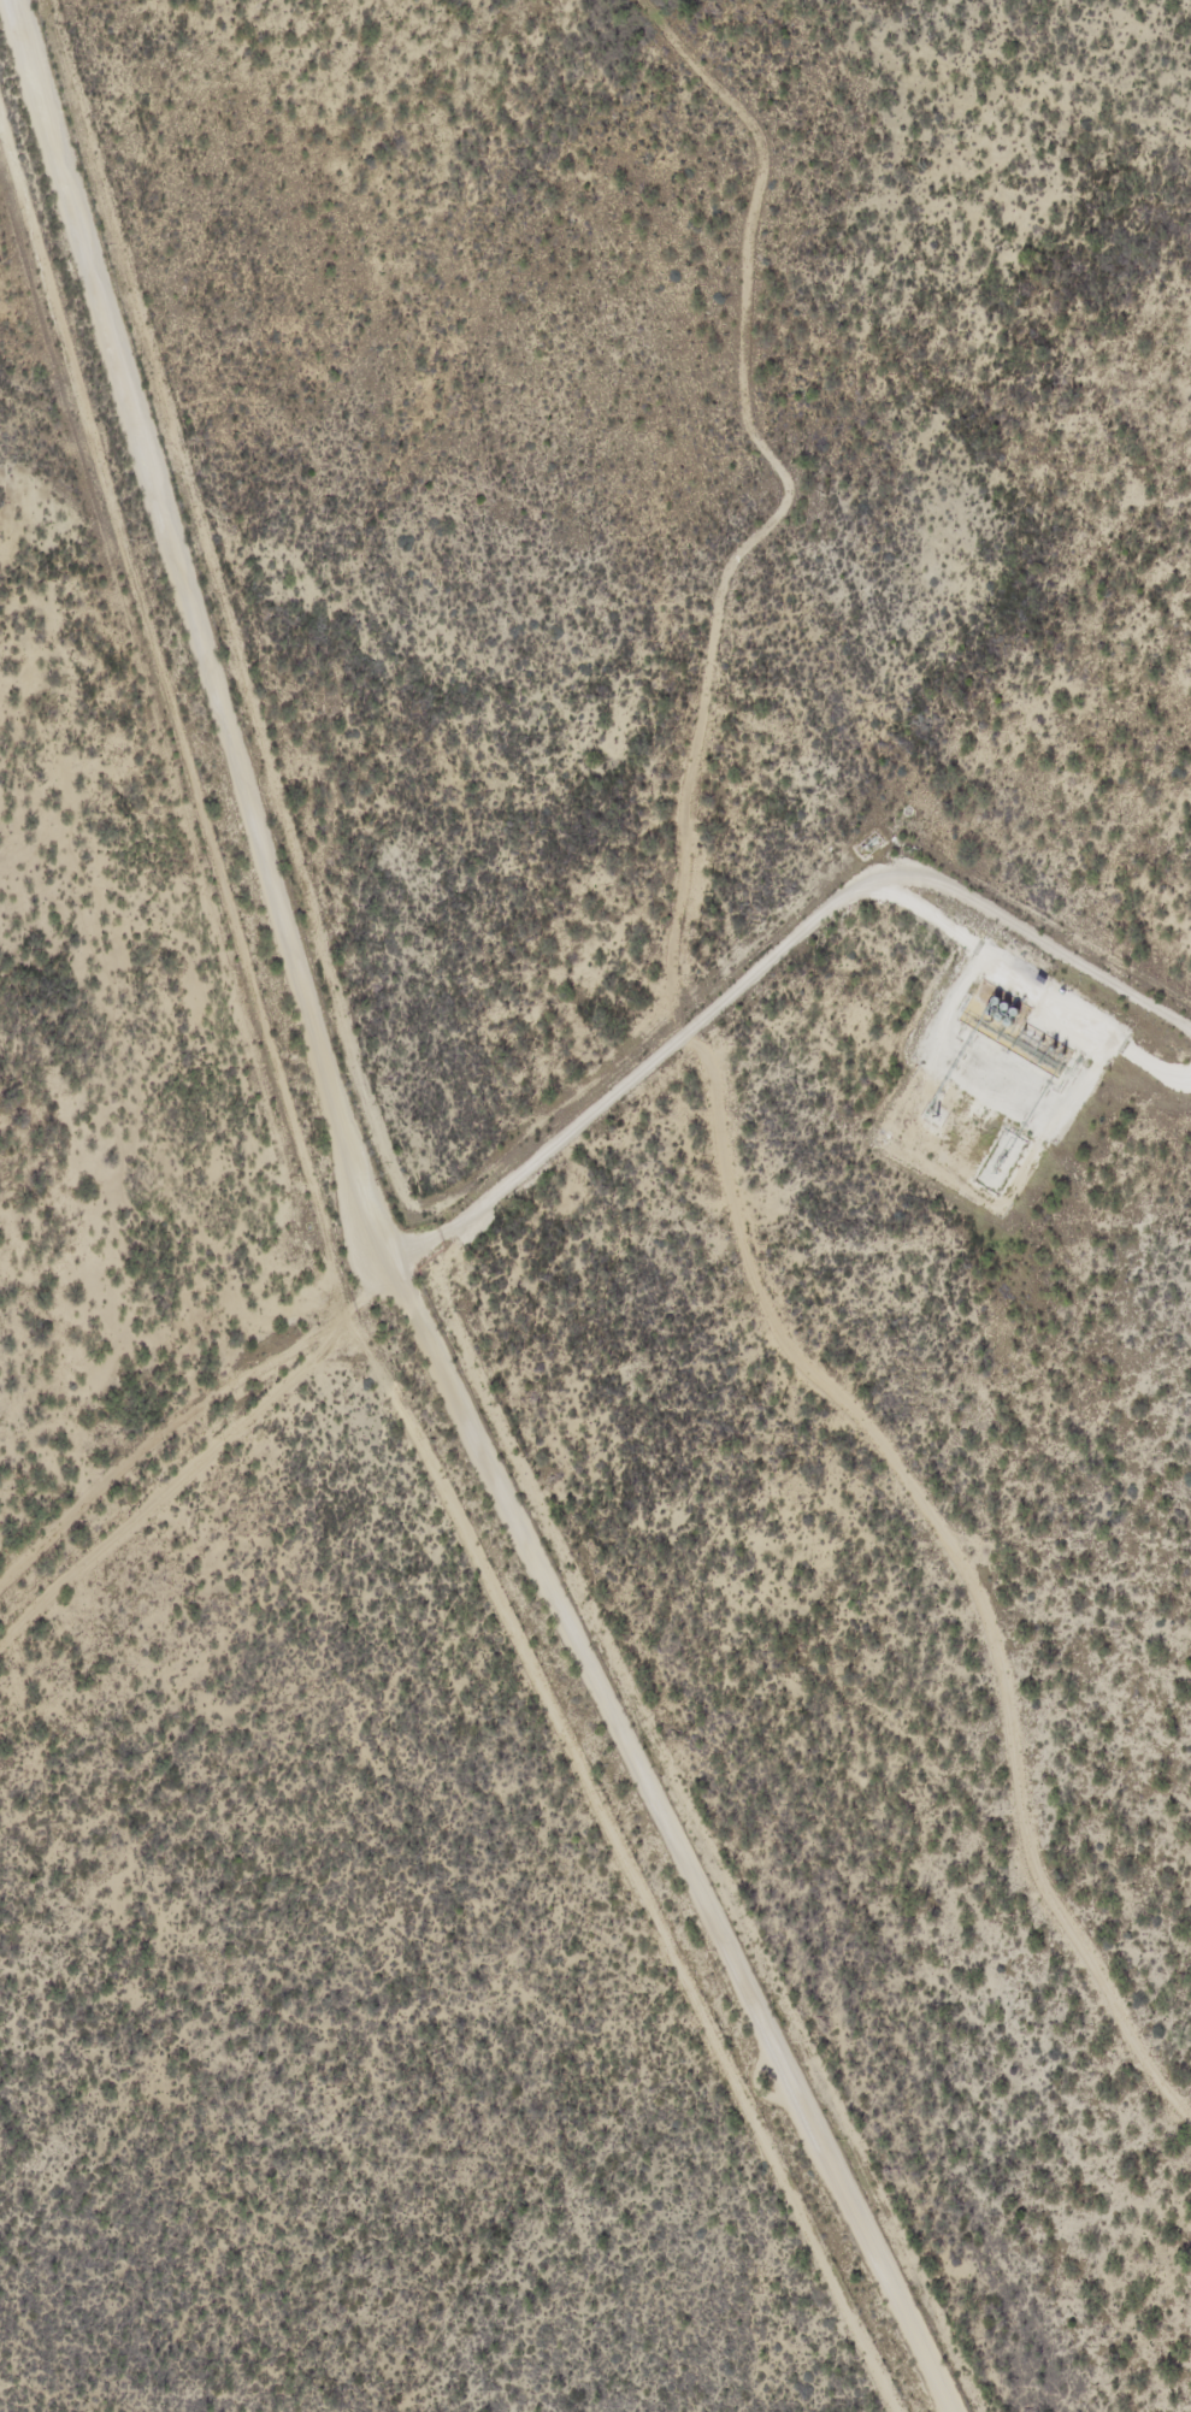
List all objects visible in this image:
road: (771, 956)
road: (975, 956)
road: (379, 1243)

